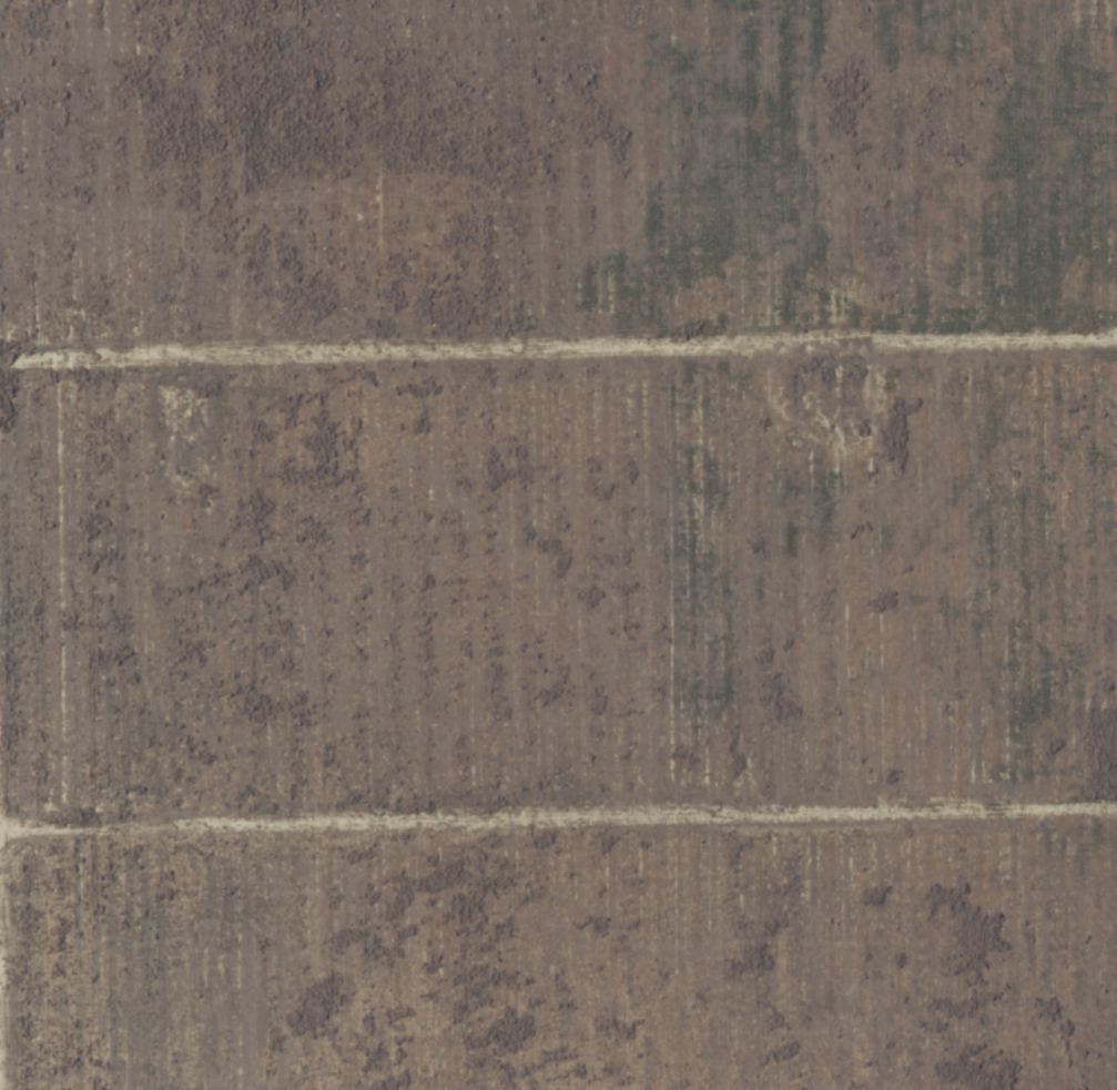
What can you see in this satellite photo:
road: (48, 776)

